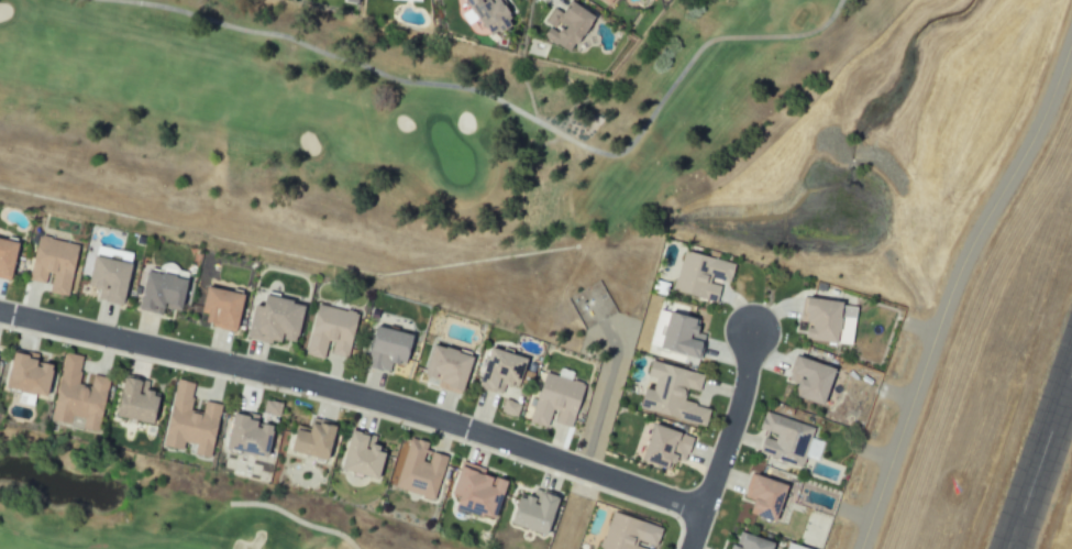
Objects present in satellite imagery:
building: (352, 0)
building: (611, 1)
building: (496, 14)
building: (574, 26)
park: (480, 145)
building: (10, 257)
building: (57, 264)
airport taxiway: (950, 276)
building: (700, 277)
building: (117, 279)
building: (166, 293)
airport taxiway: (958, 301)
building: (229, 308)
road: (740, 310)
airport: (979, 310)
road: (772, 316)
building: (821, 320)
building: (283, 321)
building: (335, 332)
building: (681, 336)
building: (395, 349)
road: (731, 353)
building: (0, 354)
road: (763, 362)
building: (455, 369)
building: (506, 371)
building: (810, 381)
road: (726, 393)
building: (672, 394)
building: (82, 396)
road: (603, 397)
road: (357, 398)
building: (143, 402)
building: (560, 402)
building: (275, 407)
building: (511, 408)
building: (195, 422)
airport runway: (1030, 429)
building: (256, 436)
road: (732, 438)
road: (744, 438)
building: (785, 438)
building: (318, 439)
building: (664, 448)
building: (369, 455)
road: (709, 458)
building: (423, 470)
road: (731, 476)
airport runway: (1051, 491)
building: (485, 492)
building: (764, 498)
park: (159, 510)
building: (539, 512)
building: (629, 535)
building: (750, 541)
building: (799, 547)

